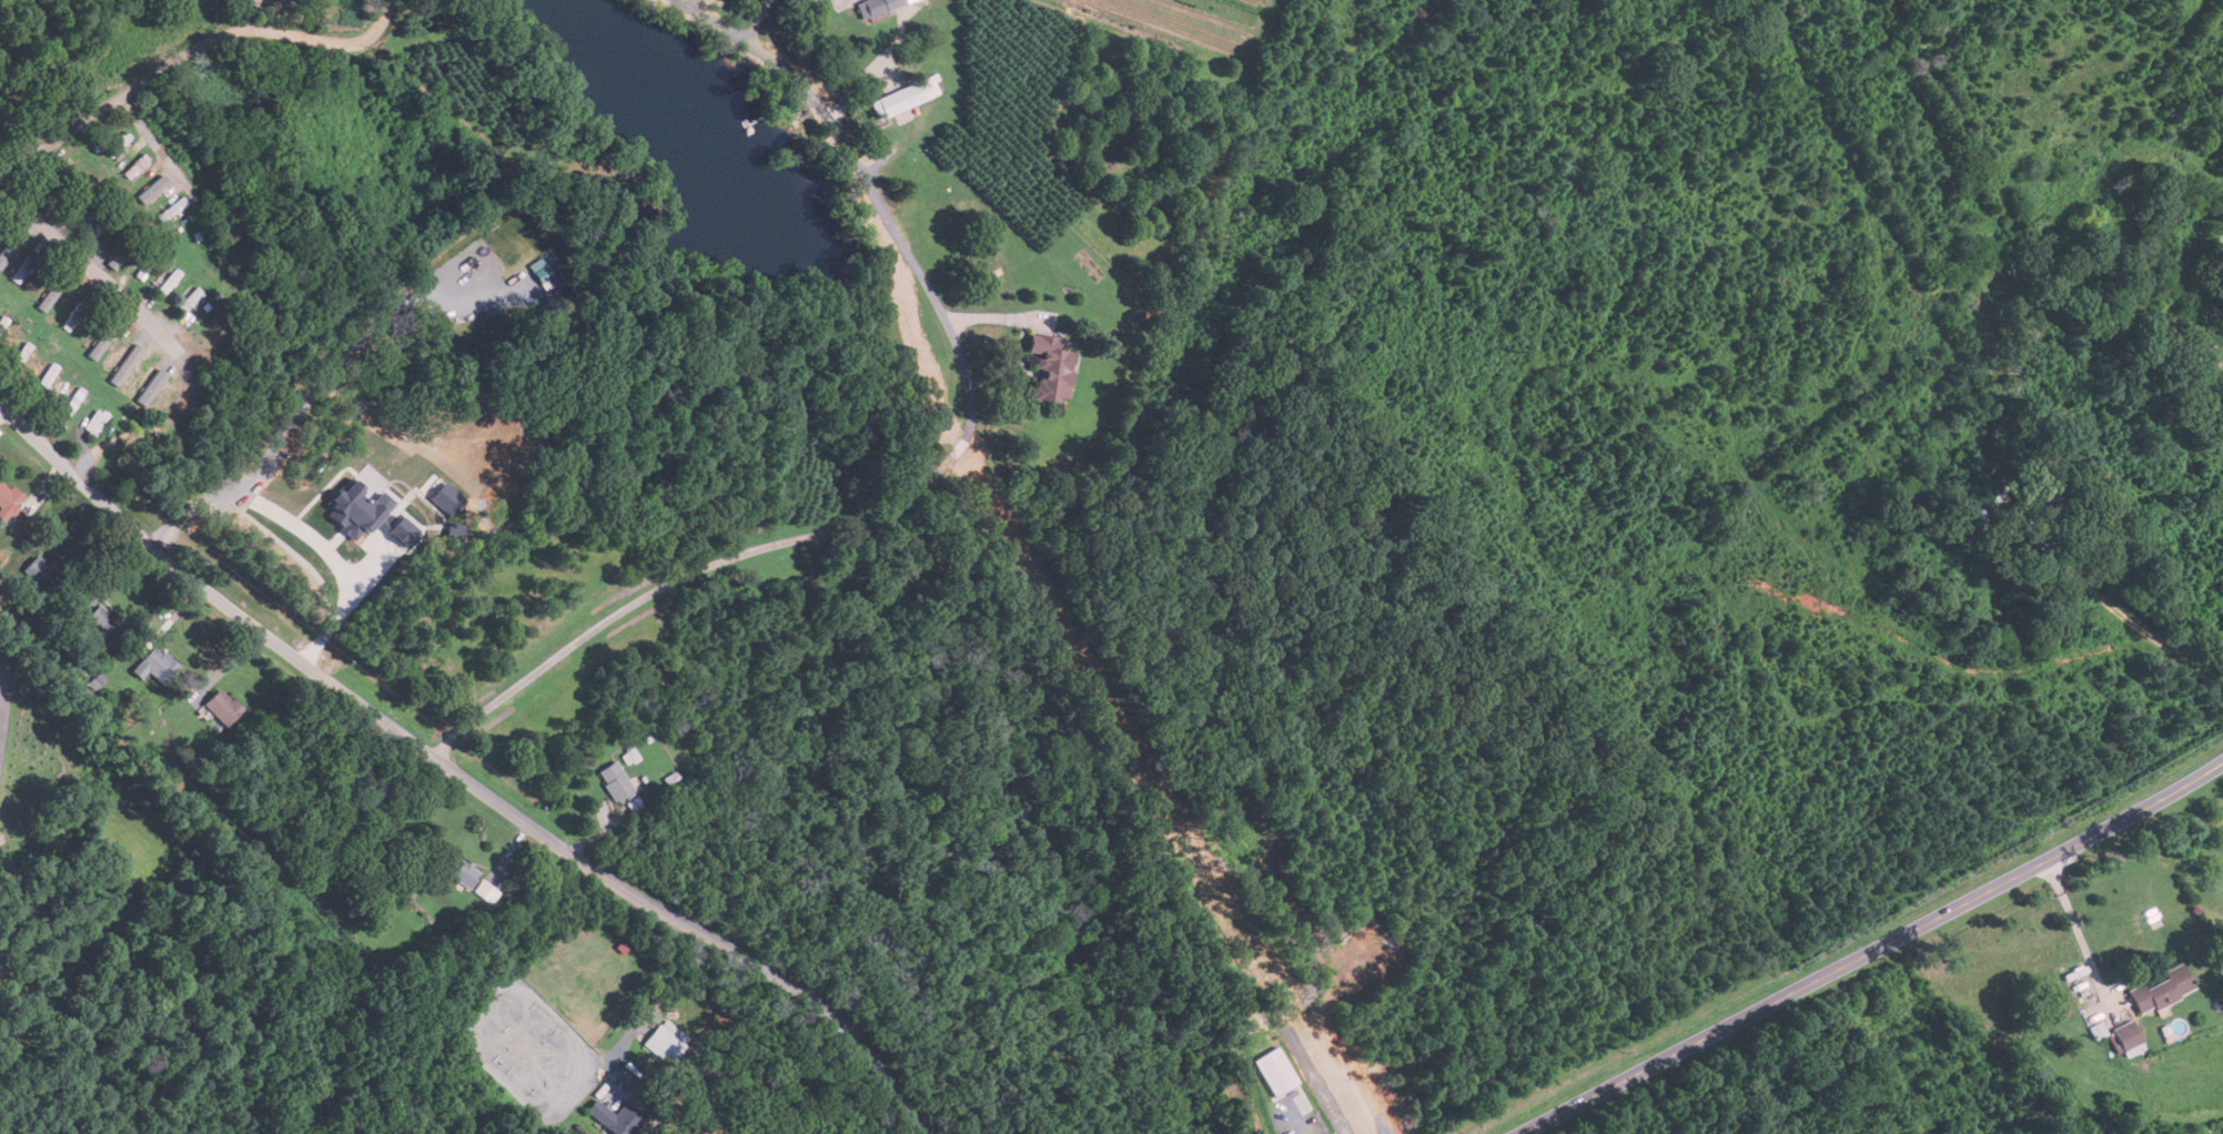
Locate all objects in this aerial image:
road: (189, 49)
building: (906, 97)
building: (119, 143)
building: (139, 168)
building: (172, 209)
building: (27, 267)
building: (169, 281)
building: (191, 298)
building: (73, 316)
road: (160, 333)
building: (23, 353)
building: (1051, 367)
building: (48, 375)
building: (150, 382)
building: (74, 399)
road: (301, 406)
building: (97, 422)
road: (946, 468)
building: (445, 497)
building: (9, 505)
building: (357, 508)
building: (402, 531)
building: (41, 573)
road: (2138, 593)
building: (102, 620)
building: (158, 664)
road: (2, 705)
building: (220, 708)
road: (462, 777)
building: (615, 781)
building: (461, 871)
building: (486, 891)
road: (2077, 925)
road: (1873, 950)
building: (2160, 989)
building: (2096, 1030)
building: (2124, 1036)
building: (666, 1041)
building: (1275, 1072)
road: (770, 1102)
building: (615, 1117)
road: (1294, 1120)

